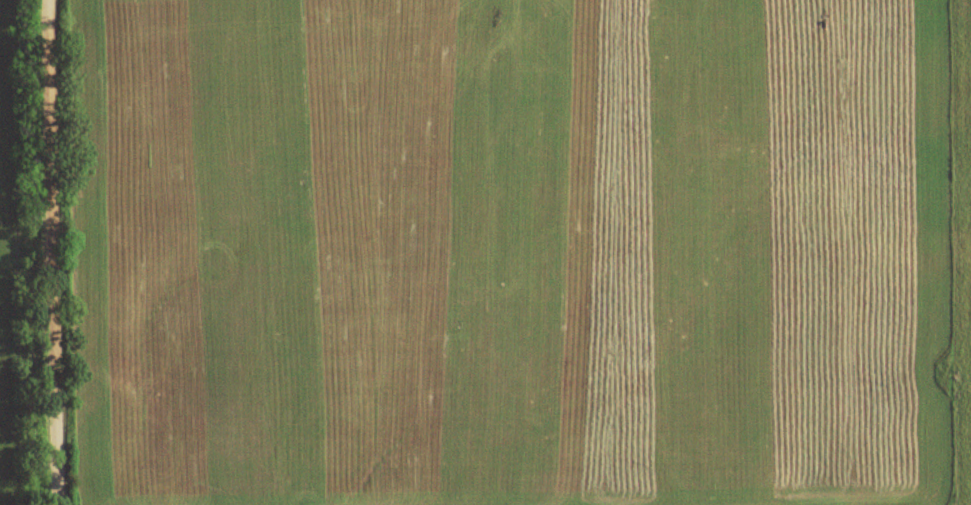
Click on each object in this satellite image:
road: (53, 252)

